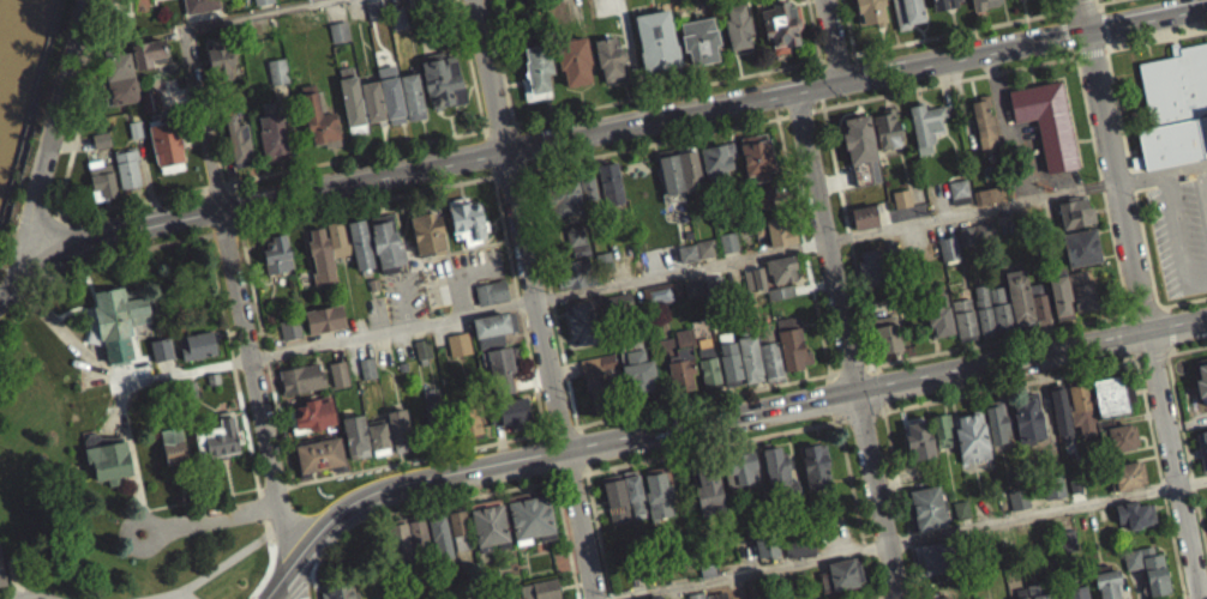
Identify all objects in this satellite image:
building: (166, 0)
building: (307, 0)
building: (498, 0)
building: (522, 0)
building: (1014, 0)
building: (263, 1)
building: (426, 1)
road: (1105, 1)
building: (1106, 1)
building: (943, 2)
road: (1097, 2)
building: (202, 4)
building: (978, 4)
road: (1067, 4)
river: (0, 6)
road: (1082, 6)
road: (1069, 8)
road: (1097, 10)
building: (871, 11)
building: (907, 12)
road: (251, 14)
road: (1061, 14)
building: (397, 16)
building: (372, 17)
building: (739, 23)
building: (782, 23)
road: (849, 26)
building: (340, 30)
road: (815, 30)
road: (961, 30)
road: (1101, 34)
road: (1065, 35)
building: (702, 36)
building: (657, 38)
building: (336, 40)
road: (834, 40)
building: (150, 50)
road: (1105, 52)
road: (852, 53)
road: (1071, 54)
building: (611, 55)
road: (837, 56)
road: (1076, 56)
building: (221, 58)
building: (575, 58)
road: (1089, 58)
road: (823, 59)
road: (1103, 59)
flagpole: (1146, 60)
building: (146, 61)
road: (499, 61)
building: (120, 63)
road: (1075, 63)
road: (469, 65)
road: (1104, 65)
building: (538, 69)
building: (276, 71)
building: (384, 80)
building: (443, 80)
traffic signals: (842, 80)
building: (121, 89)
road: (666, 91)
road: (179, 93)
building: (414, 95)
building: (395, 97)
building: (152, 98)
building: (353, 101)
building: (374, 101)
road: (80, 107)
road: (711, 107)
road: (817, 108)
road: (799, 111)
road: (59, 114)
building: (1172, 114)
road: (782, 115)
building: (322, 119)
building: (1046, 120)
building: (984, 121)
road: (510, 123)
building: (926, 123)
road: (498, 126)
building: (137, 127)
building: (887, 127)
road: (485, 128)
road: (1005, 129)
building: (102, 138)
building: (858, 138)
building: (274, 139)
road: (73, 141)
building: (241, 141)
building: (168, 143)
road: (650, 143)
building: (98, 149)
road: (352, 156)
building: (757, 156)
building: (717, 159)
parking lot: (1032, 161)
building: (128, 164)
building: (679, 169)
road: (520, 170)
road: (506, 173)
road: (494, 175)
building: (102, 177)
road: (148, 179)
road: (1160, 180)
building: (609, 181)
road: (214, 183)
building: (592, 186)
road: (1129, 188)
building: (960, 190)
building: (586, 194)
building: (866, 194)
building: (989, 194)
road: (1142, 195)
building: (902, 196)
building: (566, 198)
road: (1201, 199)
building: (957, 200)
road: (364, 201)
road: (118, 202)
building: (986, 204)
building: (761, 206)
building: (900, 207)
building: (1075, 211)
building: (864, 214)
building: (468, 220)
building: (861, 225)
road: (224, 230)
building: (775, 230)
building: (985, 230)
parking lot: (1181, 232)
building: (428, 234)
building: (576, 234)
road: (848, 235)
building: (967, 235)
road: (12, 237)
road: (101, 237)
building: (340, 240)
building: (729, 240)
road: (823, 241)
building: (389, 242)
road: (827, 242)
road: (1175, 242)
building: (362, 244)
building: (574, 244)
road: (803, 244)
building: (707, 246)
building: (890, 246)
building: (1081, 246)
building: (949, 247)
road: (35, 249)
building: (582, 250)
building: (726, 250)
building: (687, 252)
building: (277, 253)
road: (118, 254)
building: (703, 256)
building: (322, 258)
building: (947, 258)
building: (605, 259)
building: (685, 261)
building: (870, 265)
building: (781, 267)
building: (603, 268)
road: (475, 270)
building: (574, 272)
parking lot: (458, 273)
road: (456, 279)
road: (1147, 280)
building: (374, 283)
building: (693, 286)
building: (1082, 289)
building: (780, 290)
building: (491, 291)
building: (661, 291)
building: (756, 292)
building: (1061, 292)
building: (1020, 295)
parking lot: (403, 296)
road: (236, 297)
road: (548, 297)
building: (690, 297)
road: (404, 298)
road: (532, 298)
road: (1135, 299)
road: (1151, 299)
building: (618, 301)
building: (777, 301)
building: (1040, 302)
building: (654, 303)
road: (517, 304)
building: (1001, 305)
road: (1136, 307)
building: (984, 308)
building: (617, 313)
building: (938, 313)
road: (1123, 314)
road: (1165, 316)
building: (120, 317)
building: (325, 317)
building: (965, 319)
building: (584, 322)
road: (1116, 322)
building: (292, 327)
building: (493, 328)
building: (888, 332)
building: (203, 334)
road: (68, 337)
building: (288, 337)
road: (1166, 337)
road: (997, 339)
road: (1119, 339)
building: (460, 343)
building: (164, 345)
building: (793, 345)
building: (885, 346)
building: (424, 347)
road: (1203, 347)
road: (1206, 347)
building: (457, 352)
building: (194, 355)
road: (268, 355)
road: (253, 356)
road: (1170, 357)
building: (160, 358)
building: (420, 358)
building: (680, 358)
building: (504, 359)
building: (771, 361)
building: (599, 362)
building: (751, 362)
road: (1164, 362)
building: (731, 363)
road: (1123, 363)
road: (1148, 363)
building: (402, 365)
road: (867, 365)
building: (368, 367)
building: (709, 367)
road: (851, 368)
building: (638, 370)
road: (834, 371)
building: (340, 373)
building: (365, 376)
building: (215, 377)
building: (302, 377)
road: (523, 381)
building: (337, 382)
building: (601, 387)
building: (1199, 387)
road: (1004, 394)
traffic signals: (852, 397)
road: (702, 399)
building: (1107, 405)
building: (514, 411)
building: (316, 415)
building: (436, 415)
building: (1080, 417)
building: (470, 422)
building: (1058, 422)
road: (716, 423)
road: (245, 424)
road: (858, 424)
road: (574, 425)
building: (1026, 426)
road: (559, 428)
building: (401, 429)
road: (1184, 429)
building: (995, 430)
road: (545, 431)
building: (356, 435)
building: (379, 436)
building: (220, 437)
building: (939, 440)
road: (500, 444)
building: (174, 446)
building: (968, 446)
building: (1121, 447)
road: (1179, 448)
building: (917, 449)
building: (319, 453)
road: (709, 453)
building: (1201, 455)
road: (418, 458)
road: (1197, 458)
building: (109, 460)
road: (1197, 460)
road: (1187, 461)
building: (813, 476)
building: (739, 478)
building: (776, 480)
road: (1157, 483)
road: (274, 484)
road: (566, 484)
building: (1127, 484)
road: (1190, 489)
road: (847, 490)
park: (26, 495)
building: (705, 495)
road: (872, 497)
road: (197, 498)
building: (656, 503)
building: (1017, 507)
building: (621, 508)
road: (897, 509)
road: (416, 515)
road: (209, 516)
building: (925, 516)
building: (959, 518)
building: (1206, 519)
building: (1134, 522)
building: (461, 528)
building: (529, 528)
building: (487, 532)
building: (443, 537)
road: (594, 539)
road: (563, 543)
road: (1205, 544)
road: (914, 545)
road: (1201, 545)
building: (403, 546)
building: (763, 552)
building: (797, 552)
road: (860, 556)
road: (218, 565)
building: (929, 568)
building: (1154, 575)
road: (865, 580)
road: (295, 582)
building: (840, 583)
building: (0, 587)
road: (310, 588)
building: (541, 589)
building: (1105, 589)
building: (341, 591)
road: (299, 592)
road: (180, 595)
building: (503, 595)
building: (1032, 595)
building: (1076, 597)
building: (1019, 598)

